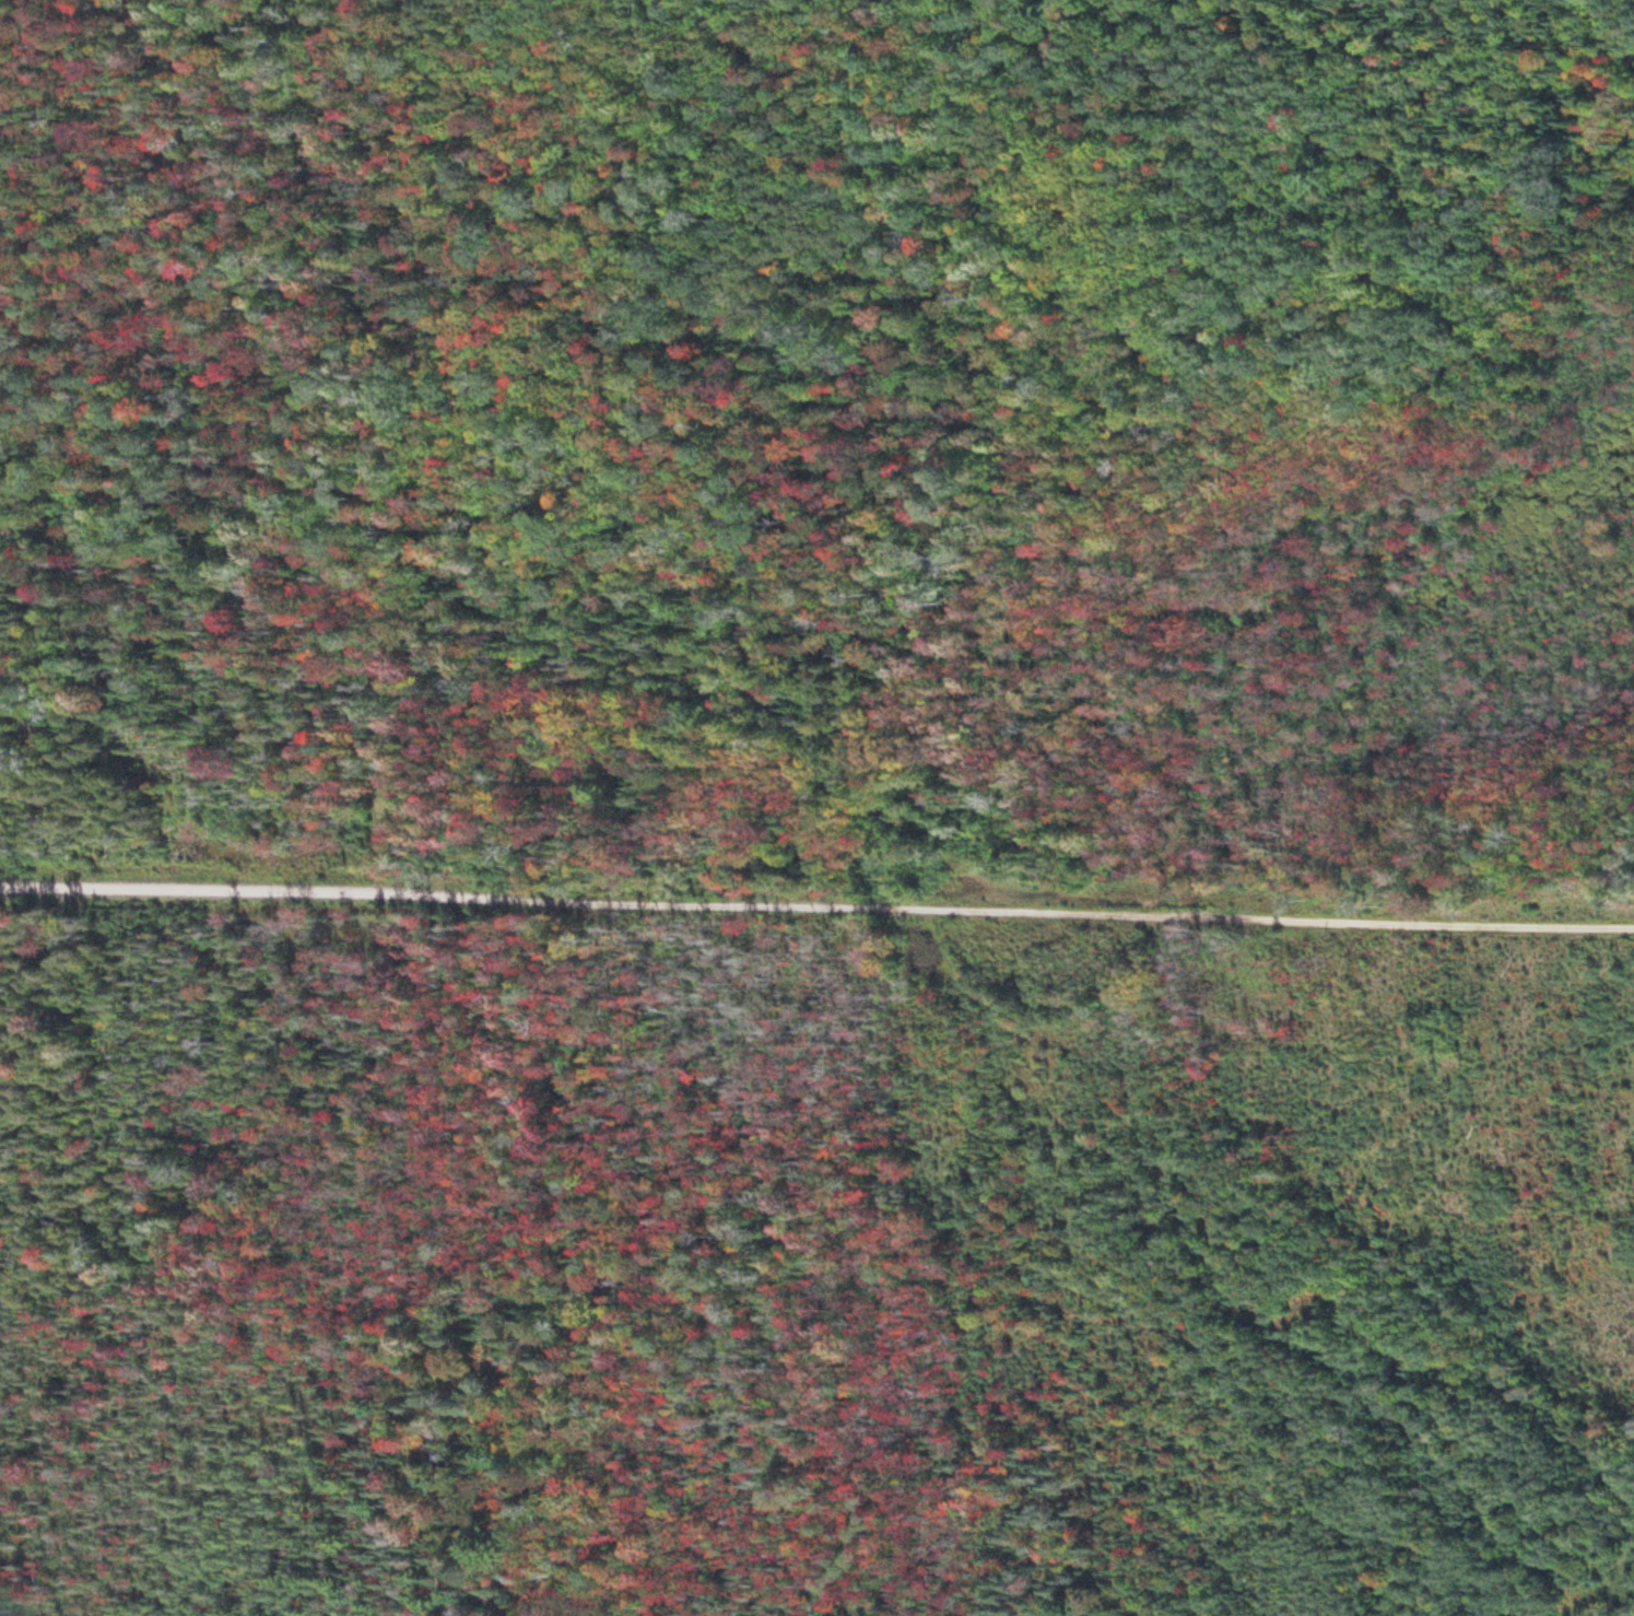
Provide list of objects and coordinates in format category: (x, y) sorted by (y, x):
road: (816, 902)

